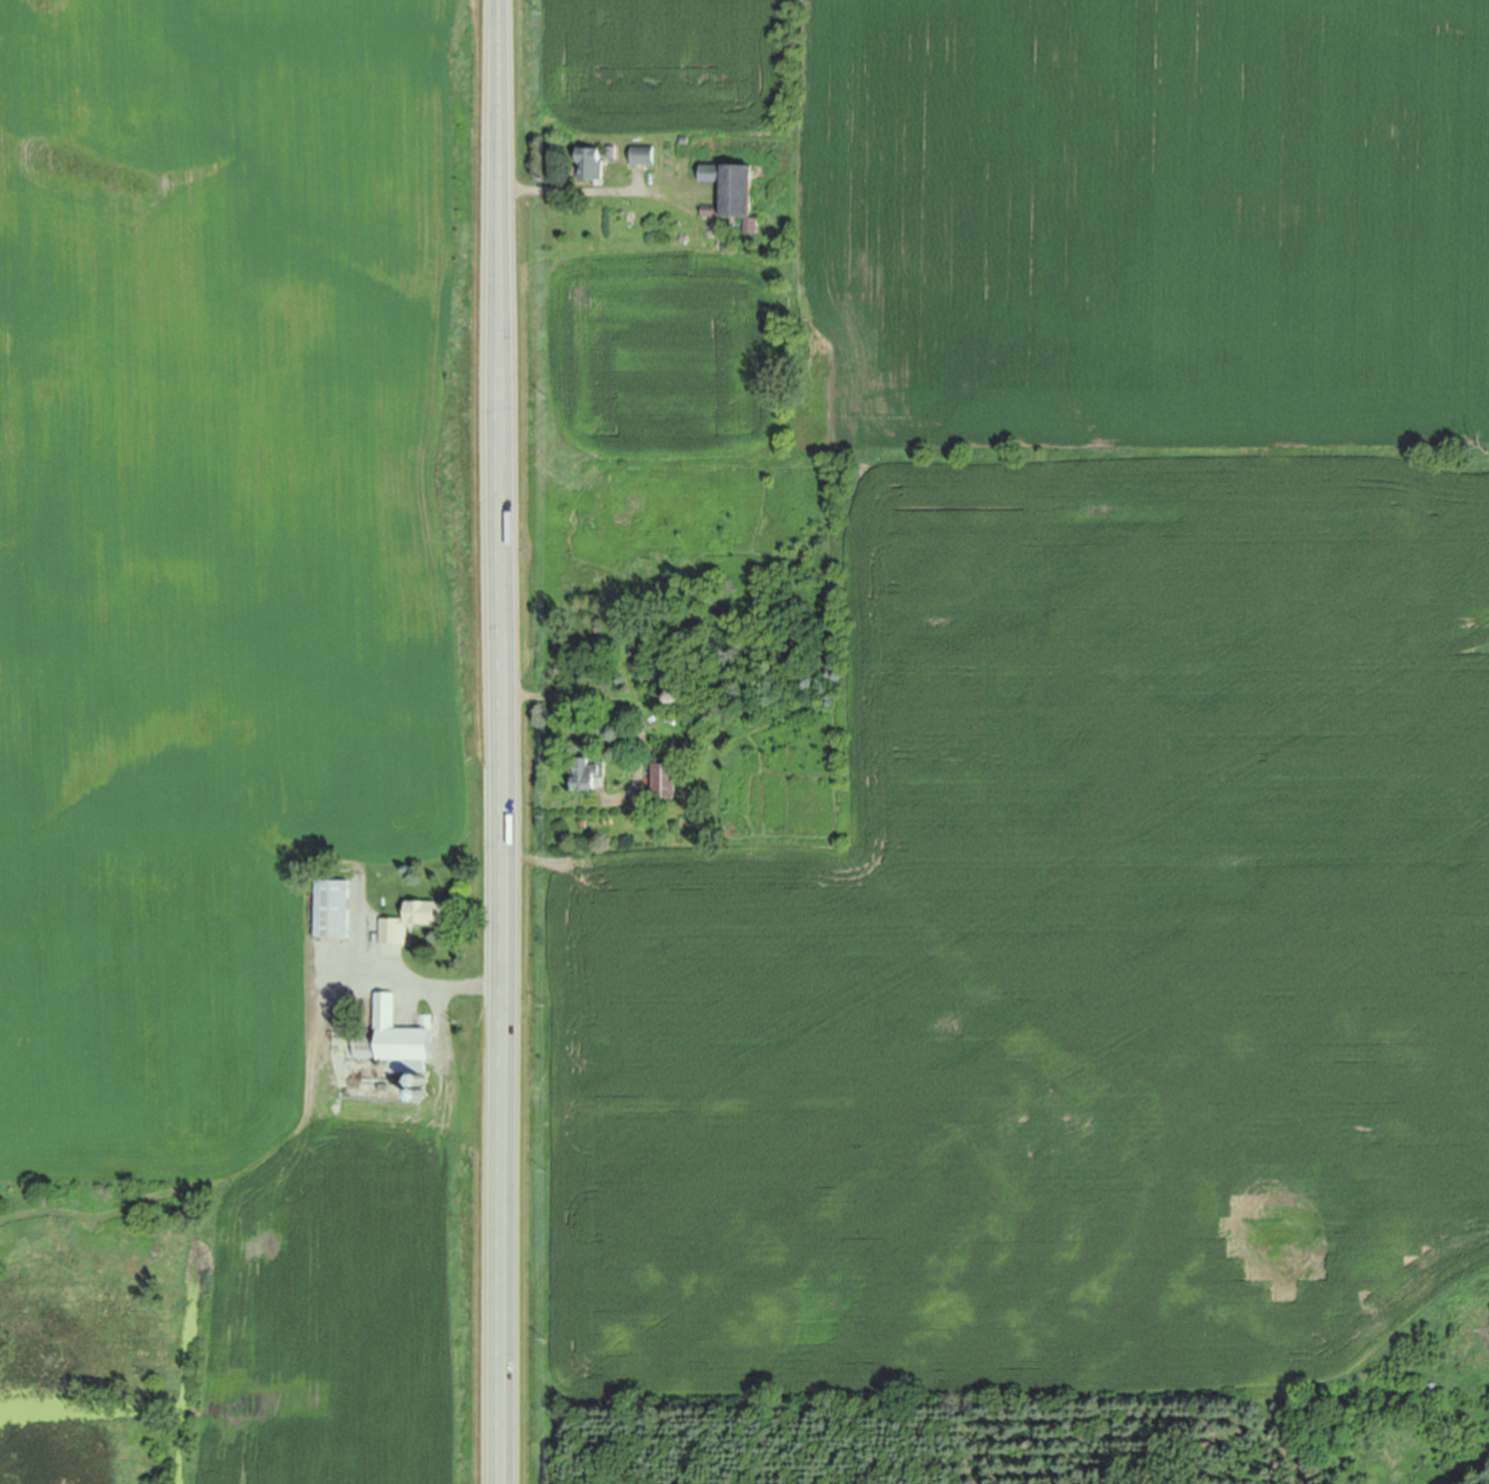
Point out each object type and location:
building: (686, 141)
building: (613, 154)
building: (644, 156)
building: (591, 167)
road: (576, 195)
building: (733, 196)
building: (768, 221)
building: (675, 700)
road: (509, 741)
road: (643, 748)
building: (590, 778)
building: (666, 785)
building: (863, 833)
building: (334, 913)
building: (413, 925)
building: (427, 1023)
building: (395, 1044)
building: (419, 1094)
building: (419, 1113)
building: (128, 1238)
building: (1432, 1387)

